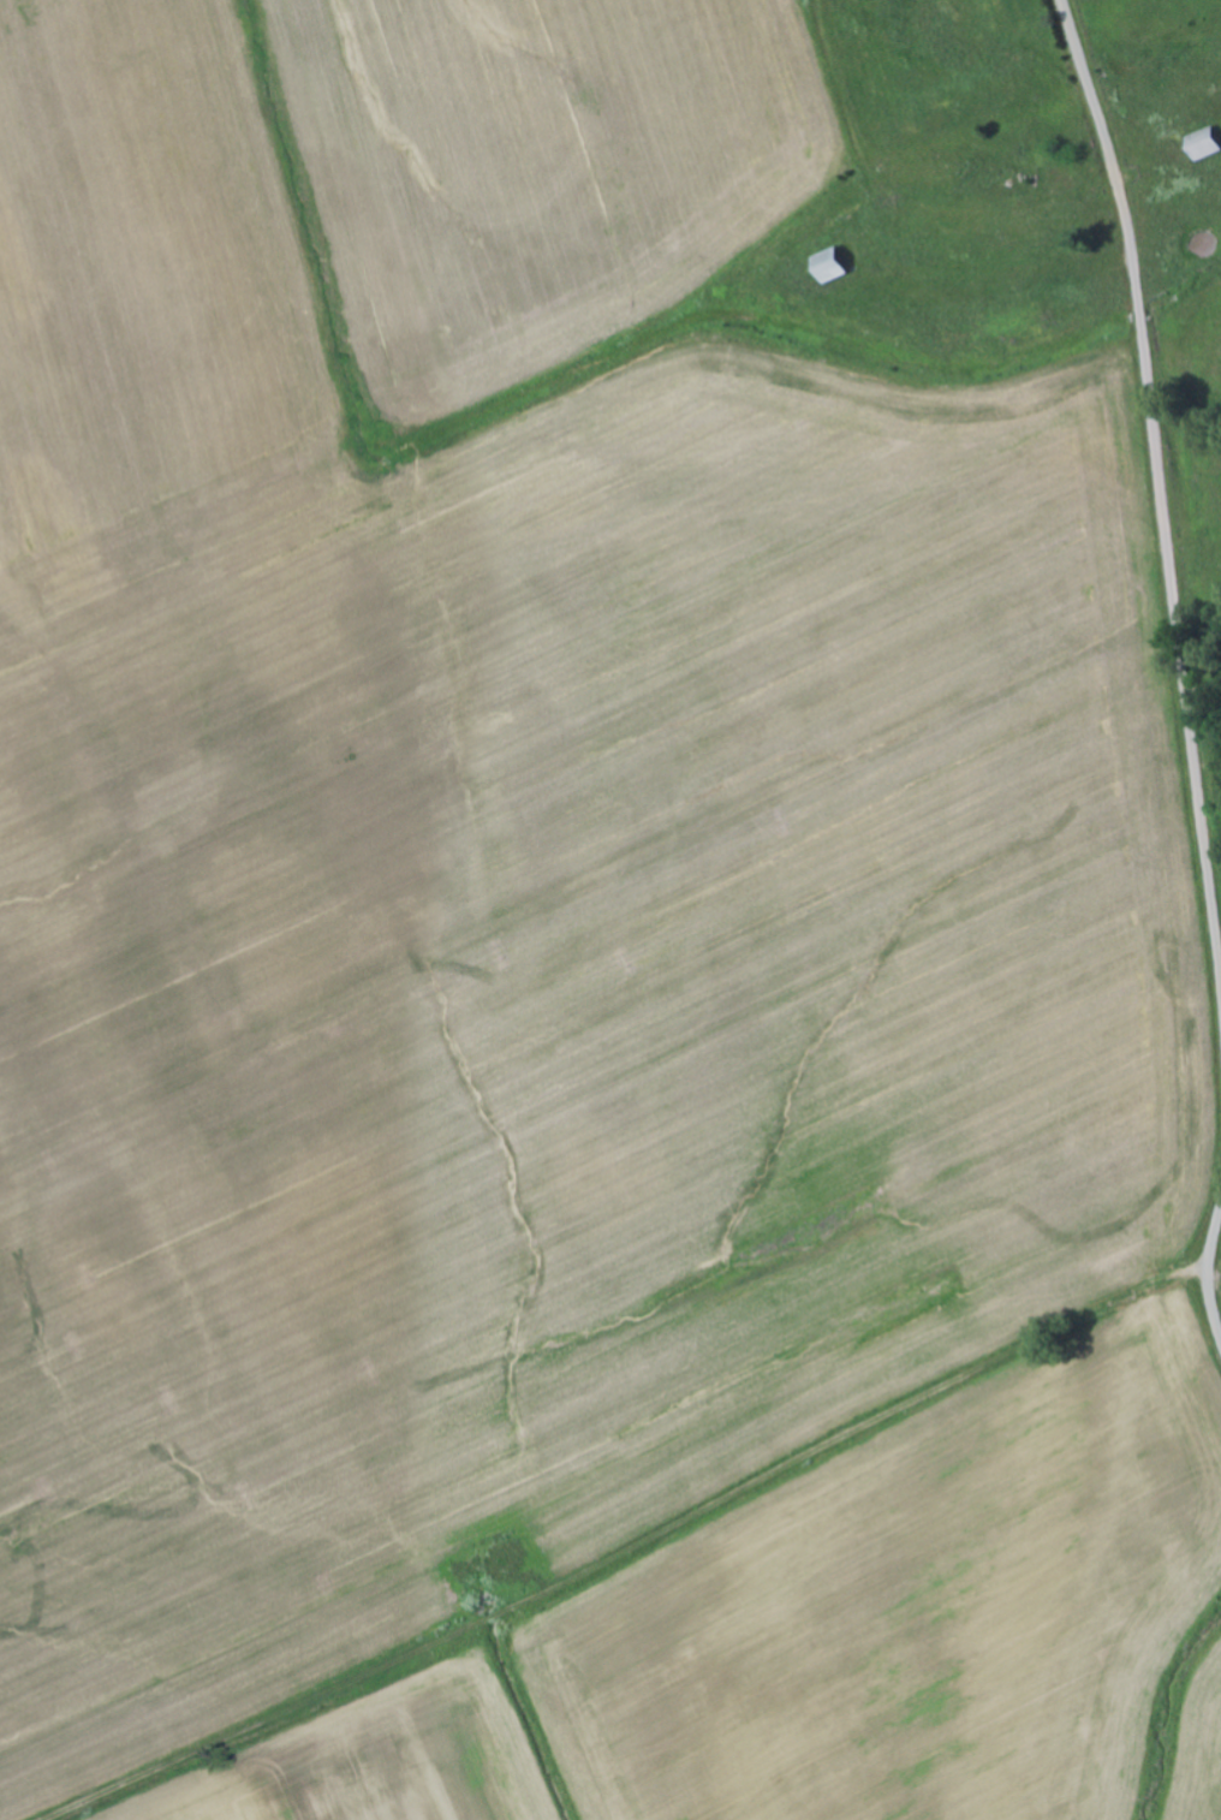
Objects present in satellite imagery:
road: (1157, 498)
road: (1210, 1267)
road: (602, 1530)

